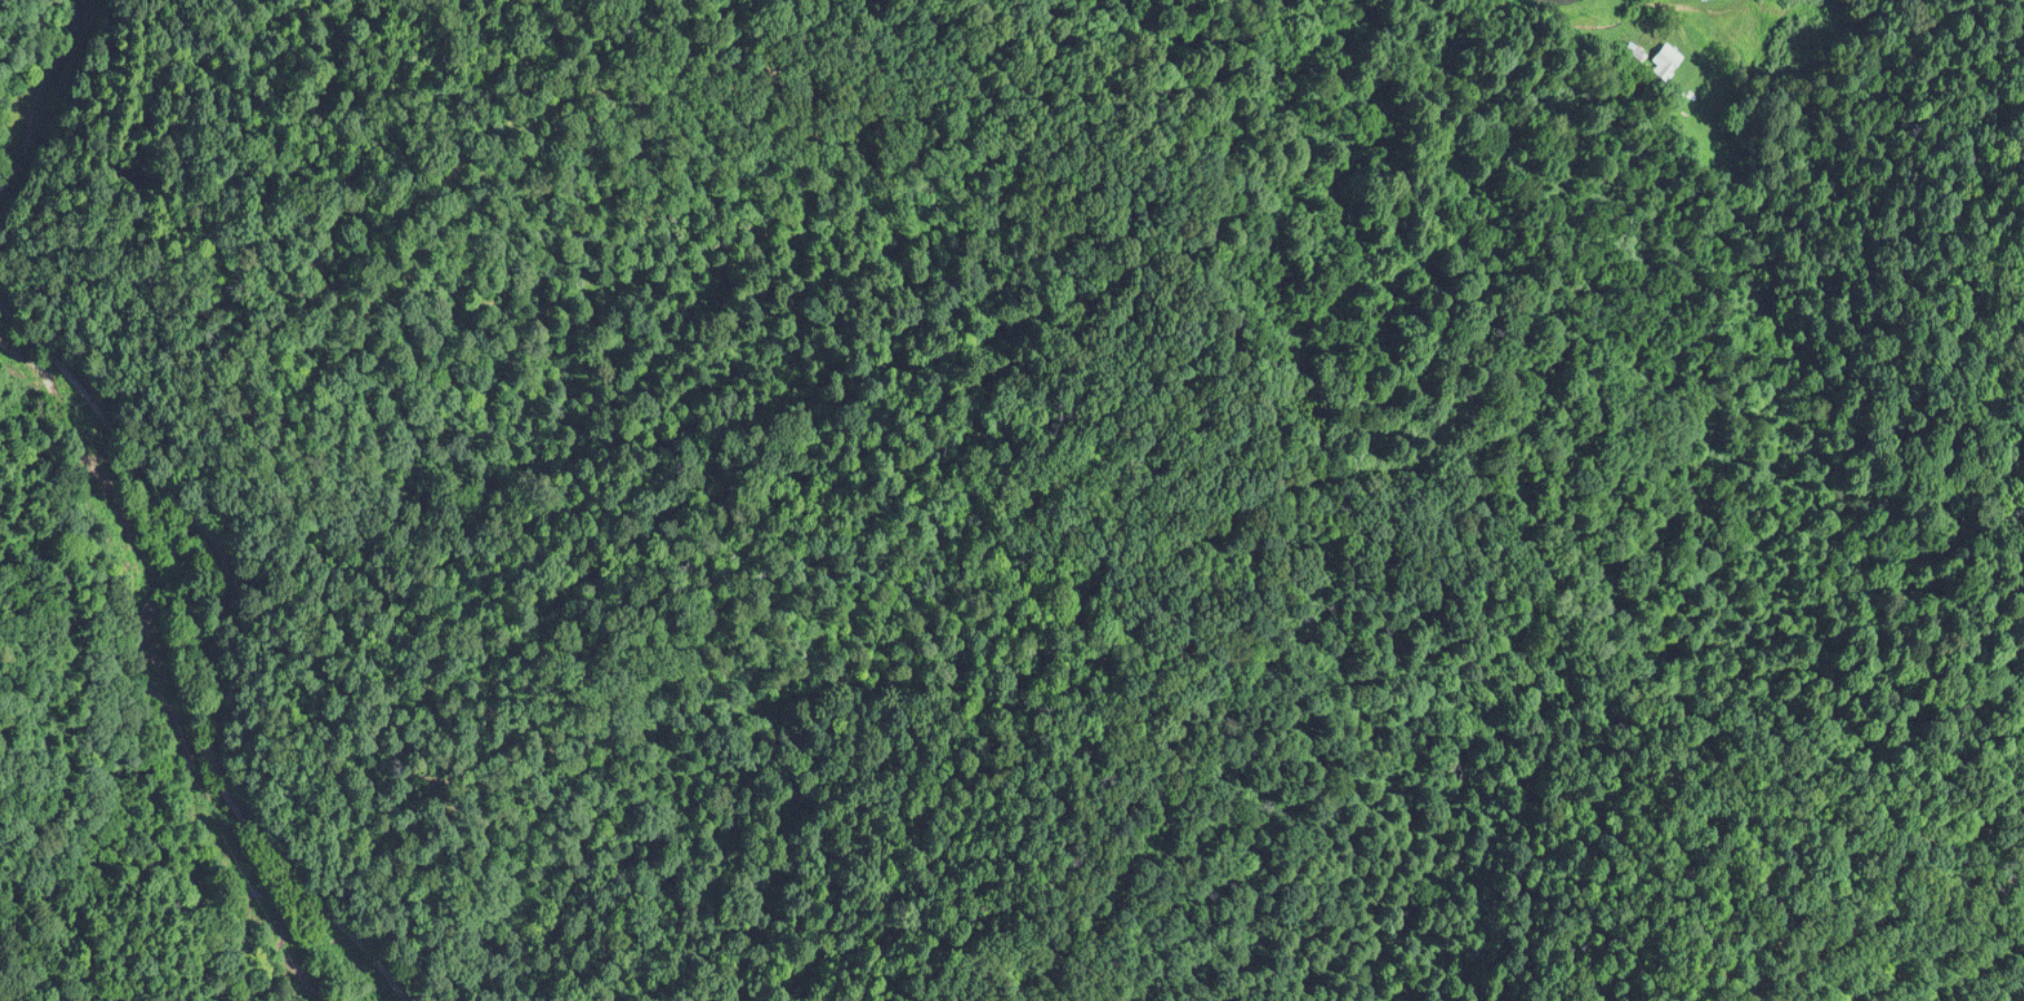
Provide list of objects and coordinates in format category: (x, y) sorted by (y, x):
road: (1737, 12)
building: (1665, 59)
road: (49, 97)
road: (218, 643)

